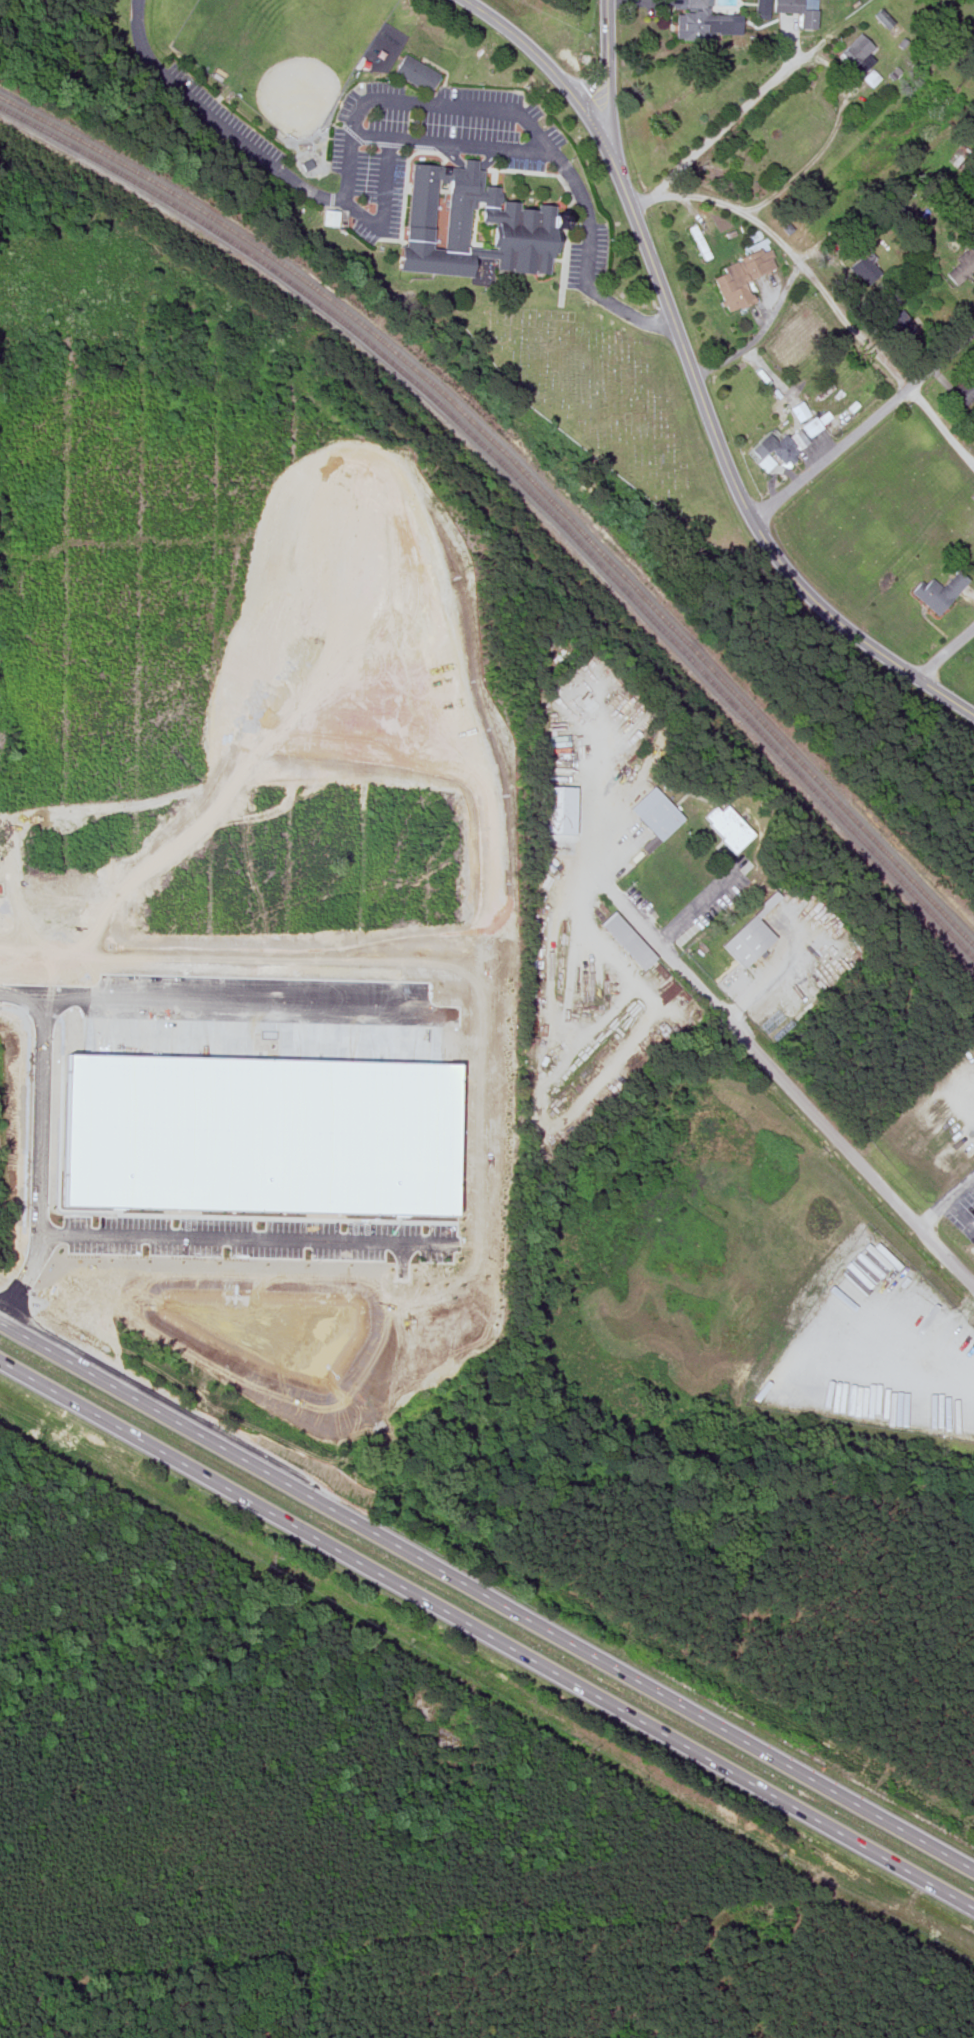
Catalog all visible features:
building: (759, 7)
building: (795, 11)
building: (884, 18)
building: (699, 21)
road: (531, 49)
building: (854, 55)
road: (607, 59)
building: (416, 74)
road: (414, 101)
railway: (39, 117)
road: (718, 128)
road: (371, 137)
road: (388, 153)
road: (806, 164)
road: (722, 203)
building: (472, 226)
road: (828, 236)
building: (865, 266)
building: (959, 268)
building: (738, 278)
building: (905, 325)
road: (761, 331)
road: (884, 362)
building: (962, 391)
building: (800, 411)
building: (812, 426)
road: (864, 427)
building: (775, 449)
road: (723, 457)
railway: (524, 488)
railway: (555, 507)
building: (936, 592)
road: (945, 653)
building: (654, 815)
building: (726, 828)
road: (617, 895)
building: (624, 941)
building: (744, 944)
road: (209, 995)
road: (784, 1084)
building: (249, 1128)
road: (45, 1157)
road: (961, 1189)
road: (961, 1211)
road: (935, 1213)
road: (246, 1231)
road: (487, 1590)
road: (487, 1638)

